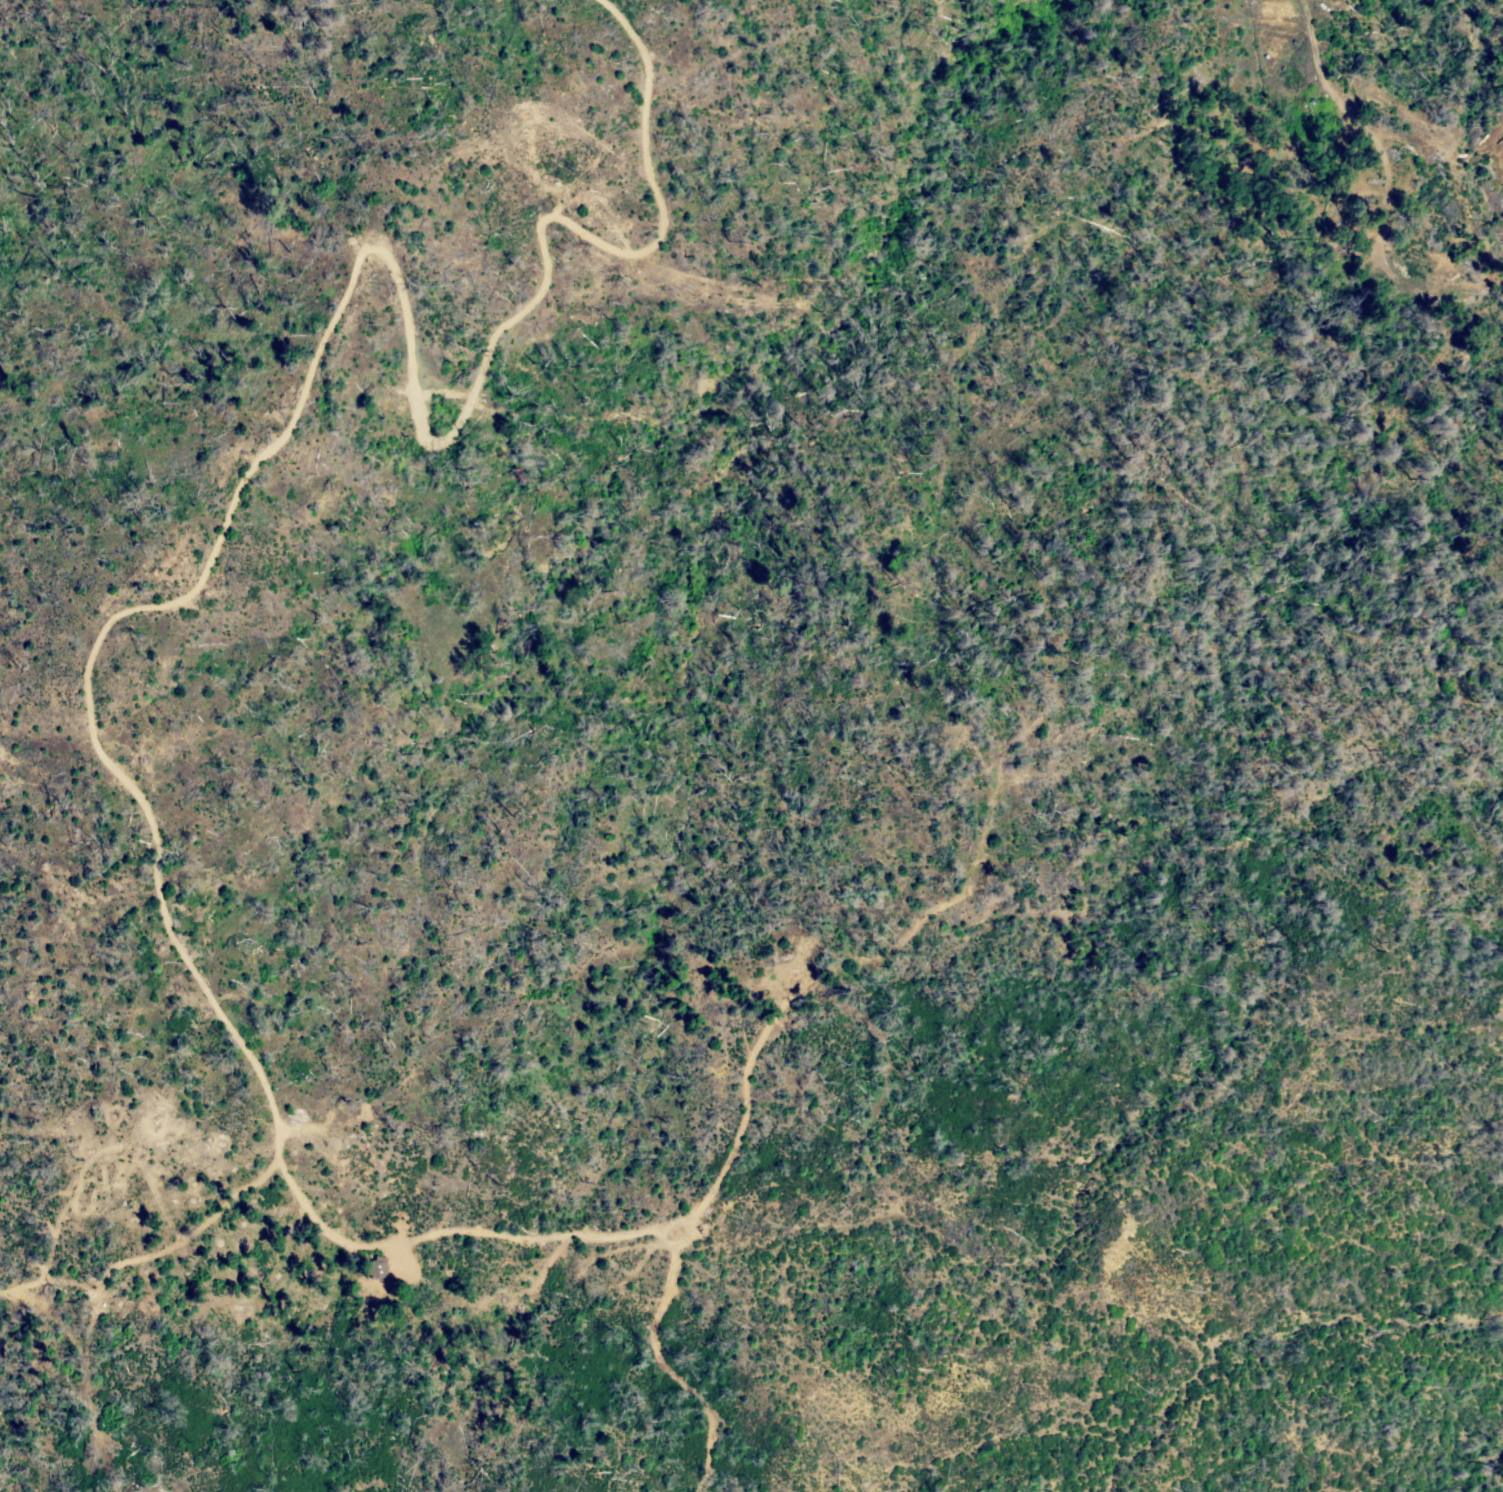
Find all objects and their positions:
road: (1309, 53)

